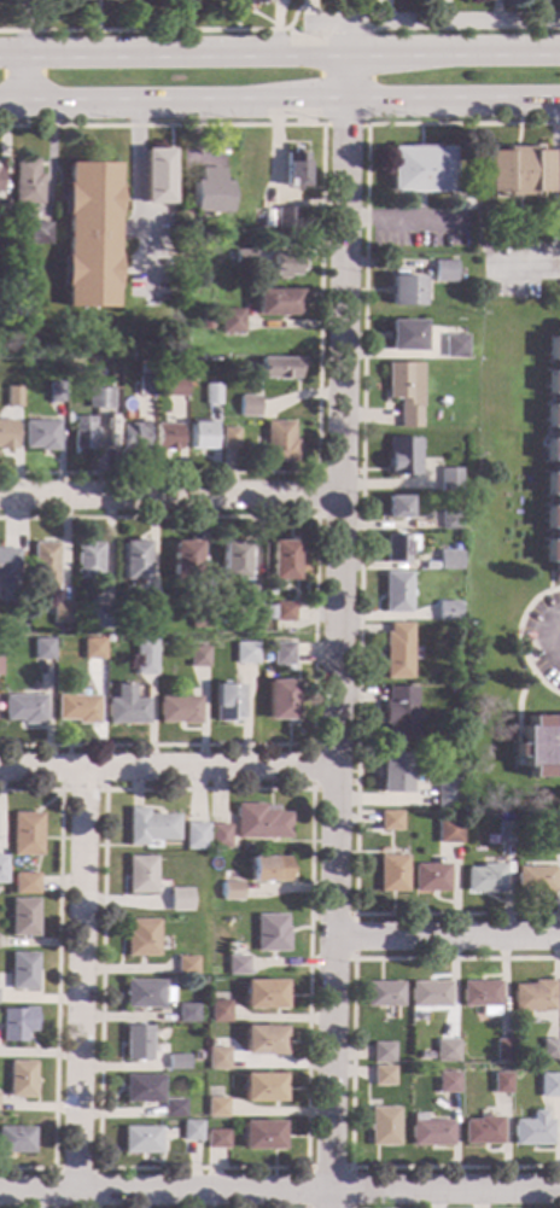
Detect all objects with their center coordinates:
building: (256, 2)
road: (304, 2)
road: (304, 13)
road: (235, 14)
road: (466, 21)
road: (328, 22)
road: (22, 29)
road: (158, 29)
road: (350, 30)
road: (303, 35)
road: (280, 57)
road: (17, 82)
road: (280, 104)
road: (344, 126)
building: (205, 159)
road: (134, 164)
building: (250, 164)
building: (293, 170)
building: (420, 170)
building: (517, 170)
building: (559, 170)
building: (156, 176)
building: (27, 182)
road: (558, 185)
building: (209, 192)
building: (467, 204)
building: (2, 210)
building: (285, 218)
road: (396, 218)
building: (39, 234)
building: (89, 235)
building: (243, 257)
building: (285, 265)
parking lot: (521, 268)
road: (526, 269)
building: (443, 272)
building: (403, 291)
road: (320, 297)
building: (479, 300)
building: (276, 303)
building: (232, 321)
building: (206, 322)
building: (404, 335)
building: (454, 346)
building: (279, 368)
building: (72, 369)
building: (145, 370)
building: (209, 375)
building: (144, 386)
building: (175, 386)
building: (53, 392)
building: (401, 393)
building: (211, 395)
building: (11, 396)
building: (99, 399)
building: (247, 407)
building: (82, 432)
building: (6, 436)
building: (40, 436)
building: (132, 437)
building: (167, 437)
building: (200, 437)
building: (228, 438)
building: (279, 443)
building: (399, 456)
building: (553, 457)
road: (316, 473)
building: (449, 479)
road: (167, 496)
building: (396, 507)
building: (449, 520)
road: (360, 526)
building: (398, 547)
building: (86, 560)
building: (282, 560)
building: (448, 560)
building: (132, 561)
building: (185, 561)
building: (233, 561)
building: (43, 565)
building: (7, 576)
road: (548, 579)
building: (395, 593)
building: (251, 595)
building: (447, 611)
building: (60, 613)
building: (284, 613)
building: (99, 618)
building: (150, 618)
building: (200, 618)
building: (19, 628)
road: (314, 630)
road: (334, 631)
road: (518, 638)
parking lot: (543, 638)
road: (547, 641)
building: (92, 648)
building: (41, 649)
building: (145, 649)
building: (396, 650)
building: (245, 653)
building: (282, 654)
building: (197, 656)
building: (453, 689)
building: (280, 700)
building: (226, 702)
road: (517, 704)
building: (126, 707)
building: (23, 708)
building: (76, 708)
building: (177, 710)
building: (399, 713)
building: (537, 746)
road: (167, 768)
building: (392, 772)
road: (313, 789)
road: (59, 790)
building: (444, 793)
building: (389, 821)
building: (261, 822)
building: (148, 827)
building: (447, 831)
building: (552, 831)
building: (503, 833)
building: (24, 834)
building: (194, 836)
building: (218, 836)
building: (1, 856)
building: (1, 869)
building: (269, 870)
building: (391, 874)
building: (140, 875)
building: (430, 877)
building: (483, 879)
building: (533, 879)
building: (24, 883)
building: (232, 892)
building: (177, 899)
road: (354, 916)
building: (22, 918)
building: (272, 933)
road: (447, 936)
building: (141, 938)
building: (232, 949)
building: (185, 965)
building: (238, 965)
building: (22, 971)
road: (56, 978)
road: (80, 980)
building: (200, 981)
building: (146, 994)
building: (263, 994)
building: (384, 994)
building: (428, 994)
building: (482, 996)
building: (533, 997)
building: (218, 1011)
building: (185, 1014)
building: (16, 1023)
building: (262, 1040)
building: (136, 1043)
building: (501, 1050)
building: (549, 1050)
building: (447, 1051)
building: (383, 1052)
building: (216, 1058)
building: (176, 1063)
road: (351, 1066)
building: (383, 1075)
building: (19, 1079)
building: (447, 1082)
building: (500, 1082)
building: (549, 1086)
building: (261, 1087)
building: (141, 1089)
building: (215, 1107)
building: (173, 1109)
building: (383, 1126)
building: (191, 1131)
building: (480, 1131)
building: (531, 1131)
building: (428, 1132)
building: (261, 1136)
building: (216, 1139)
building: (16, 1140)
building: (140, 1140)
road: (307, 1167)
road: (328, 1168)
road: (56, 1169)
road: (279, 1192)

